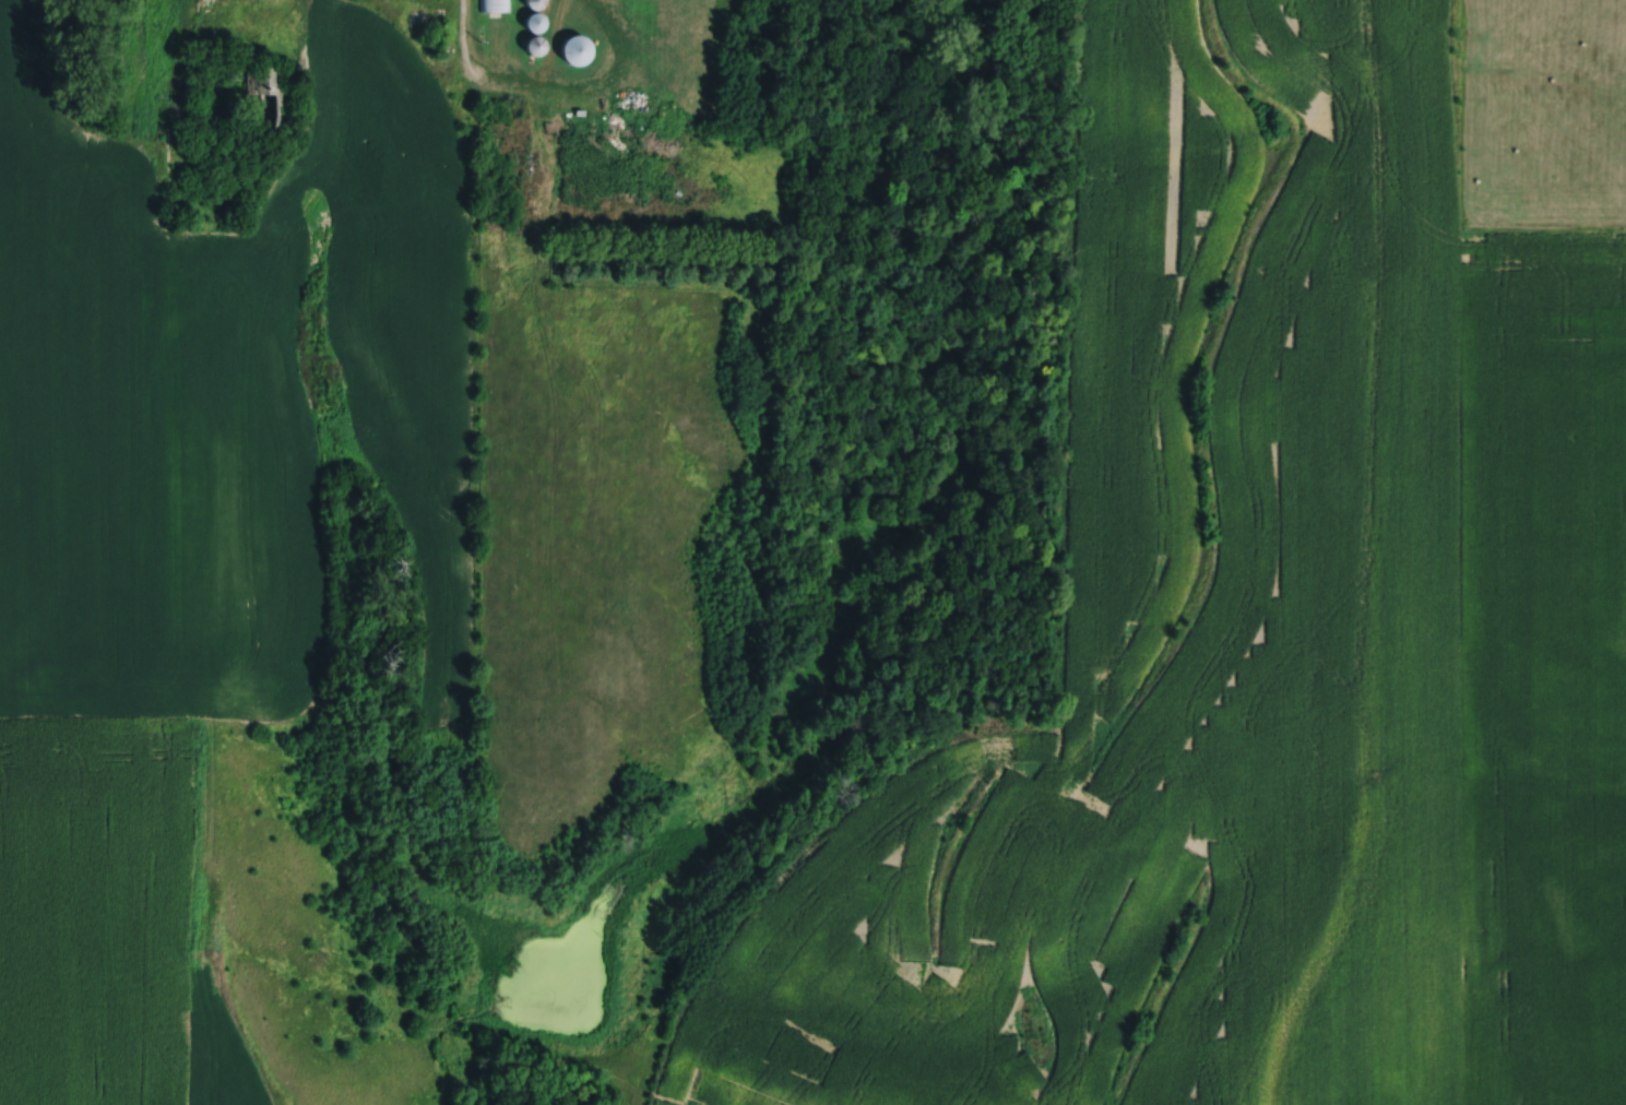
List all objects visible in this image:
building: (497, 5)
building: (537, 14)
building: (537, 46)
building: (577, 49)
building: (269, 97)

